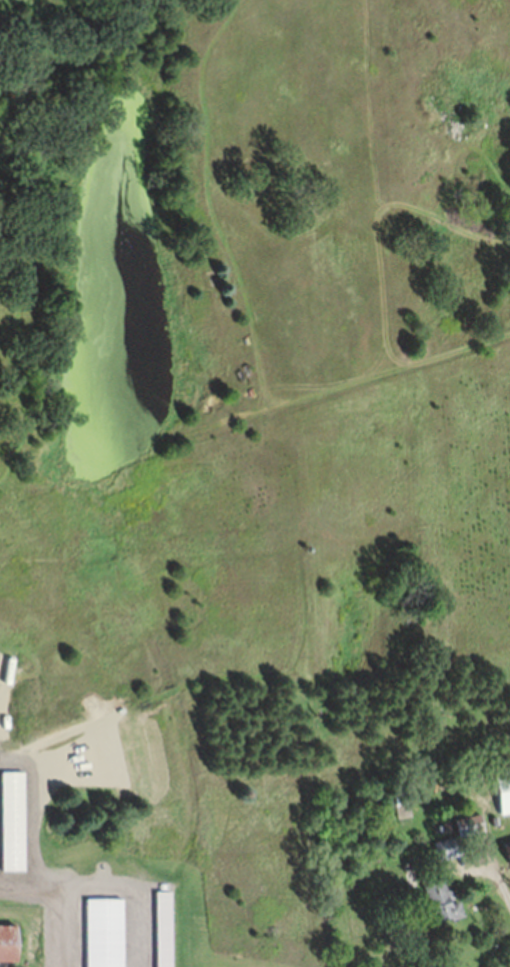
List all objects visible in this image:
building: (501, 801)
building: (405, 820)
building: (466, 833)
building: (493, 861)
road: (494, 869)
building: (439, 907)
building: (8, 949)

